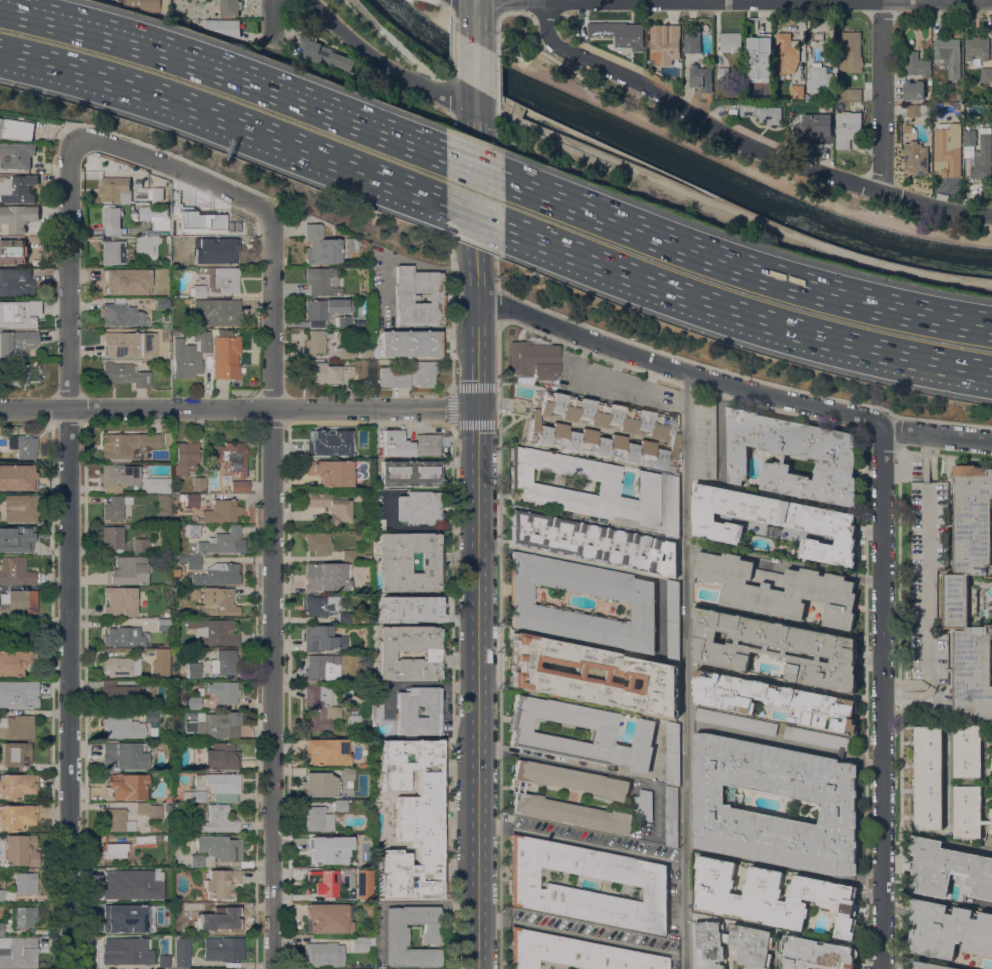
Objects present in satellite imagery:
road: (441, 0)
building: (144, 4)
building: (228, 6)
road: (498, 6)
road: (451, 11)
road: (514, 13)
road: (544, 13)
road: (272, 19)
road: (475, 19)
building: (809, 21)
building: (223, 26)
road: (497, 31)
building: (619, 33)
building: (819, 35)
road: (505, 39)
building: (692, 41)
building: (730, 41)
road: (397, 43)
building: (665, 43)
building: (976, 46)
road: (450, 49)
building: (851, 51)
building: (786, 53)
building: (949, 54)
building: (325, 55)
building: (758, 57)
road: (559, 62)
road: (475, 63)
road: (384, 64)
building: (917, 64)
road: (225, 68)
building: (723, 73)
building: (983, 74)
road: (497, 75)
building: (700, 77)
building: (819, 78)
building: (914, 90)
building: (797, 91)
road: (450, 92)
building: (849, 94)
road: (881, 95)
road: (475, 96)
building: (807, 97)
building: (918, 110)
building: (762, 111)
road: (223, 119)
road: (474, 120)
building: (814, 127)
building: (16, 128)
building: (847, 128)
building: (907, 128)
building: (969, 137)
road: (743, 143)
building: (946, 149)
building: (18, 154)
river: (677, 157)
building: (915, 157)
building: (982, 158)
road: (474, 163)
road: (746, 168)
road: (474, 186)
building: (17, 189)
building: (115, 189)
building: (158, 193)
road: (496, 193)
road: (729, 207)
building: (152, 212)
road: (475, 214)
building: (18, 217)
building: (111, 219)
building: (159, 223)
building: (227, 235)
building: (35, 241)
building: (352, 243)
building: (147, 245)
building: (321, 246)
road: (451, 250)
building: (13, 251)
building: (113, 252)
building: (193, 256)
road: (405, 260)
building: (36, 262)
road: (744, 263)
building: (226, 279)
building: (15, 280)
building: (127, 281)
building: (321, 281)
road: (476, 286)
building: (197, 290)
building: (405, 297)
building: (162, 303)
road: (496, 307)
building: (325, 309)
building: (17, 311)
building: (217, 311)
road: (745, 313)
building: (121, 314)
building: (342, 321)
building: (358, 321)
building: (315, 341)
building: (16, 342)
building: (409, 343)
building: (129, 344)
building: (366, 351)
building: (346, 352)
building: (225, 354)
road: (476, 354)
building: (189, 356)
building: (533, 360)
building: (375, 363)
building: (19, 373)
building: (327, 373)
building: (424, 373)
building: (124, 374)
building: (393, 378)
road: (731, 385)
building: (520, 404)
road: (452, 406)
road: (135, 408)
road: (373, 408)
traffic signals: (476, 408)
road: (720, 428)
building: (548, 430)
building: (167, 437)
building: (705, 439)
building: (321, 441)
building: (128, 443)
building: (396, 443)
building: (428, 444)
building: (23, 445)
building: (367, 454)
building: (826, 455)
building: (229, 456)
building: (136, 457)
building: (185, 458)
building: (331, 472)
building: (410, 472)
building: (119, 476)
building: (17, 477)
building: (198, 482)
building: (157, 484)
building: (529, 485)
building: (240, 486)
road: (271, 486)
building: (189, 498)
building: (330, 504)
building: (672, 505)
building: (115, 506)
building: (419, 506)
building: (20, 508)
building: (222, 510)
building: (775, 521)
building: (379, 525)
building: (193, 530)
building: (20, 536)
building: (112, 539)
building: (223, 542)
building: (318, 542)
building: (593, 542)
building: (141, 546)
building: (0, 548)
road: (68, 553)
building: (348, 554)
building: (367, 557)
building: (191, 561)
building: (409, 561)
building: (128, 570)
building: (15, 571)
building: (218, 574)
building: (326, 576)
building: (367, 586)
building: (778, 588)
building: (120, 600)
building: (956, 600)
building: (217, 601)
building: (18, 602)
building: (642, 602)
building: (320, 604)
building: (409, 607)
building: (164, 614)
building: (344, 617)
building: (673, 619)
building: (164, 624)
building: (212, 631)
building: (12, 636)
building: (124, 636)
building: (321, 638)
road: (498, 646)
building: (776, 648)
building: (386, 654)
building: (161, 662)
building: (224, 662)
building: (335, 665)
building: (121, 666)
building: (4, 668)
building: (194, 670)
road: (684, 670)
building: (593, 674)
road: (476, 688)
building: (224, 691)
building: (21, 692)
building: (120, 694)
road: (881, 696)
building: (775, 699)
building: (194, 702)
building: (376, 704)
building: (319, 707)
building: (406, 708)
building: (151, 715)
building: (736, 721)
building: (355, 722)
building: (219, 724)
building: (18, 727)
building: (122, 727)
building: (526, 733)
building: (818, 737)
road: (782, 742)
building: (1, 745)
building: (327, 751)
building: (16, 753)
building: (672, 753)
building: (126, 754)
building: (222, 756)
road: (549, 758)
building: (991, 766)
building: (347, 774)
building: (928, 778)
building: (968, 781)
building: (320, 784)
building: (16, 785)
building: (125, 786)
building: (217, 786)
building: (527, 797)
building: (644, 804)
building: (340, 805)
building: (712, 805)
building: (149, 810)
building: (990, 813)
building: (671, 815)
building: (17, 816)
building: (413, 817)
building: (219, 818)
building: (318, 818)
building: (116, 819)
building: (166, 837)
road: (580, 838)
building: (144, 840)
road: (991, 843)
building: (220, 847)
building: (114, 849)
building: (21, 850)
building: (320, 851)
building: (197, 861)
building: (245, 864)
building: (947, 869)
building: (145, 872)
building: (221, 882)
building: (321, 882)
building: (26, 883)
building: (365, 884)
building: (647, 884)
building: (113, 886)
building: (1, 894)
building: (772, 896)
building: (366, 909)
building: (179, 914)
building: (221, 914)
building: (23, 916)
building: (328, 917)
building: (126, 918)
building: (2, 928)
building: (948, 929)
road: (570, 930)
building: (396, 938)
building: (359, 943)
building: (756, 944)
building: (121, 948)
building: (223, 948)
building: (181, 952)
building: (574, 952)
road: (673, 952)
building: (20, 953)
building: (324, 953)
building: (816, 954)
building: (157, 960)
building: (929, 965)
building: (173, 968)

